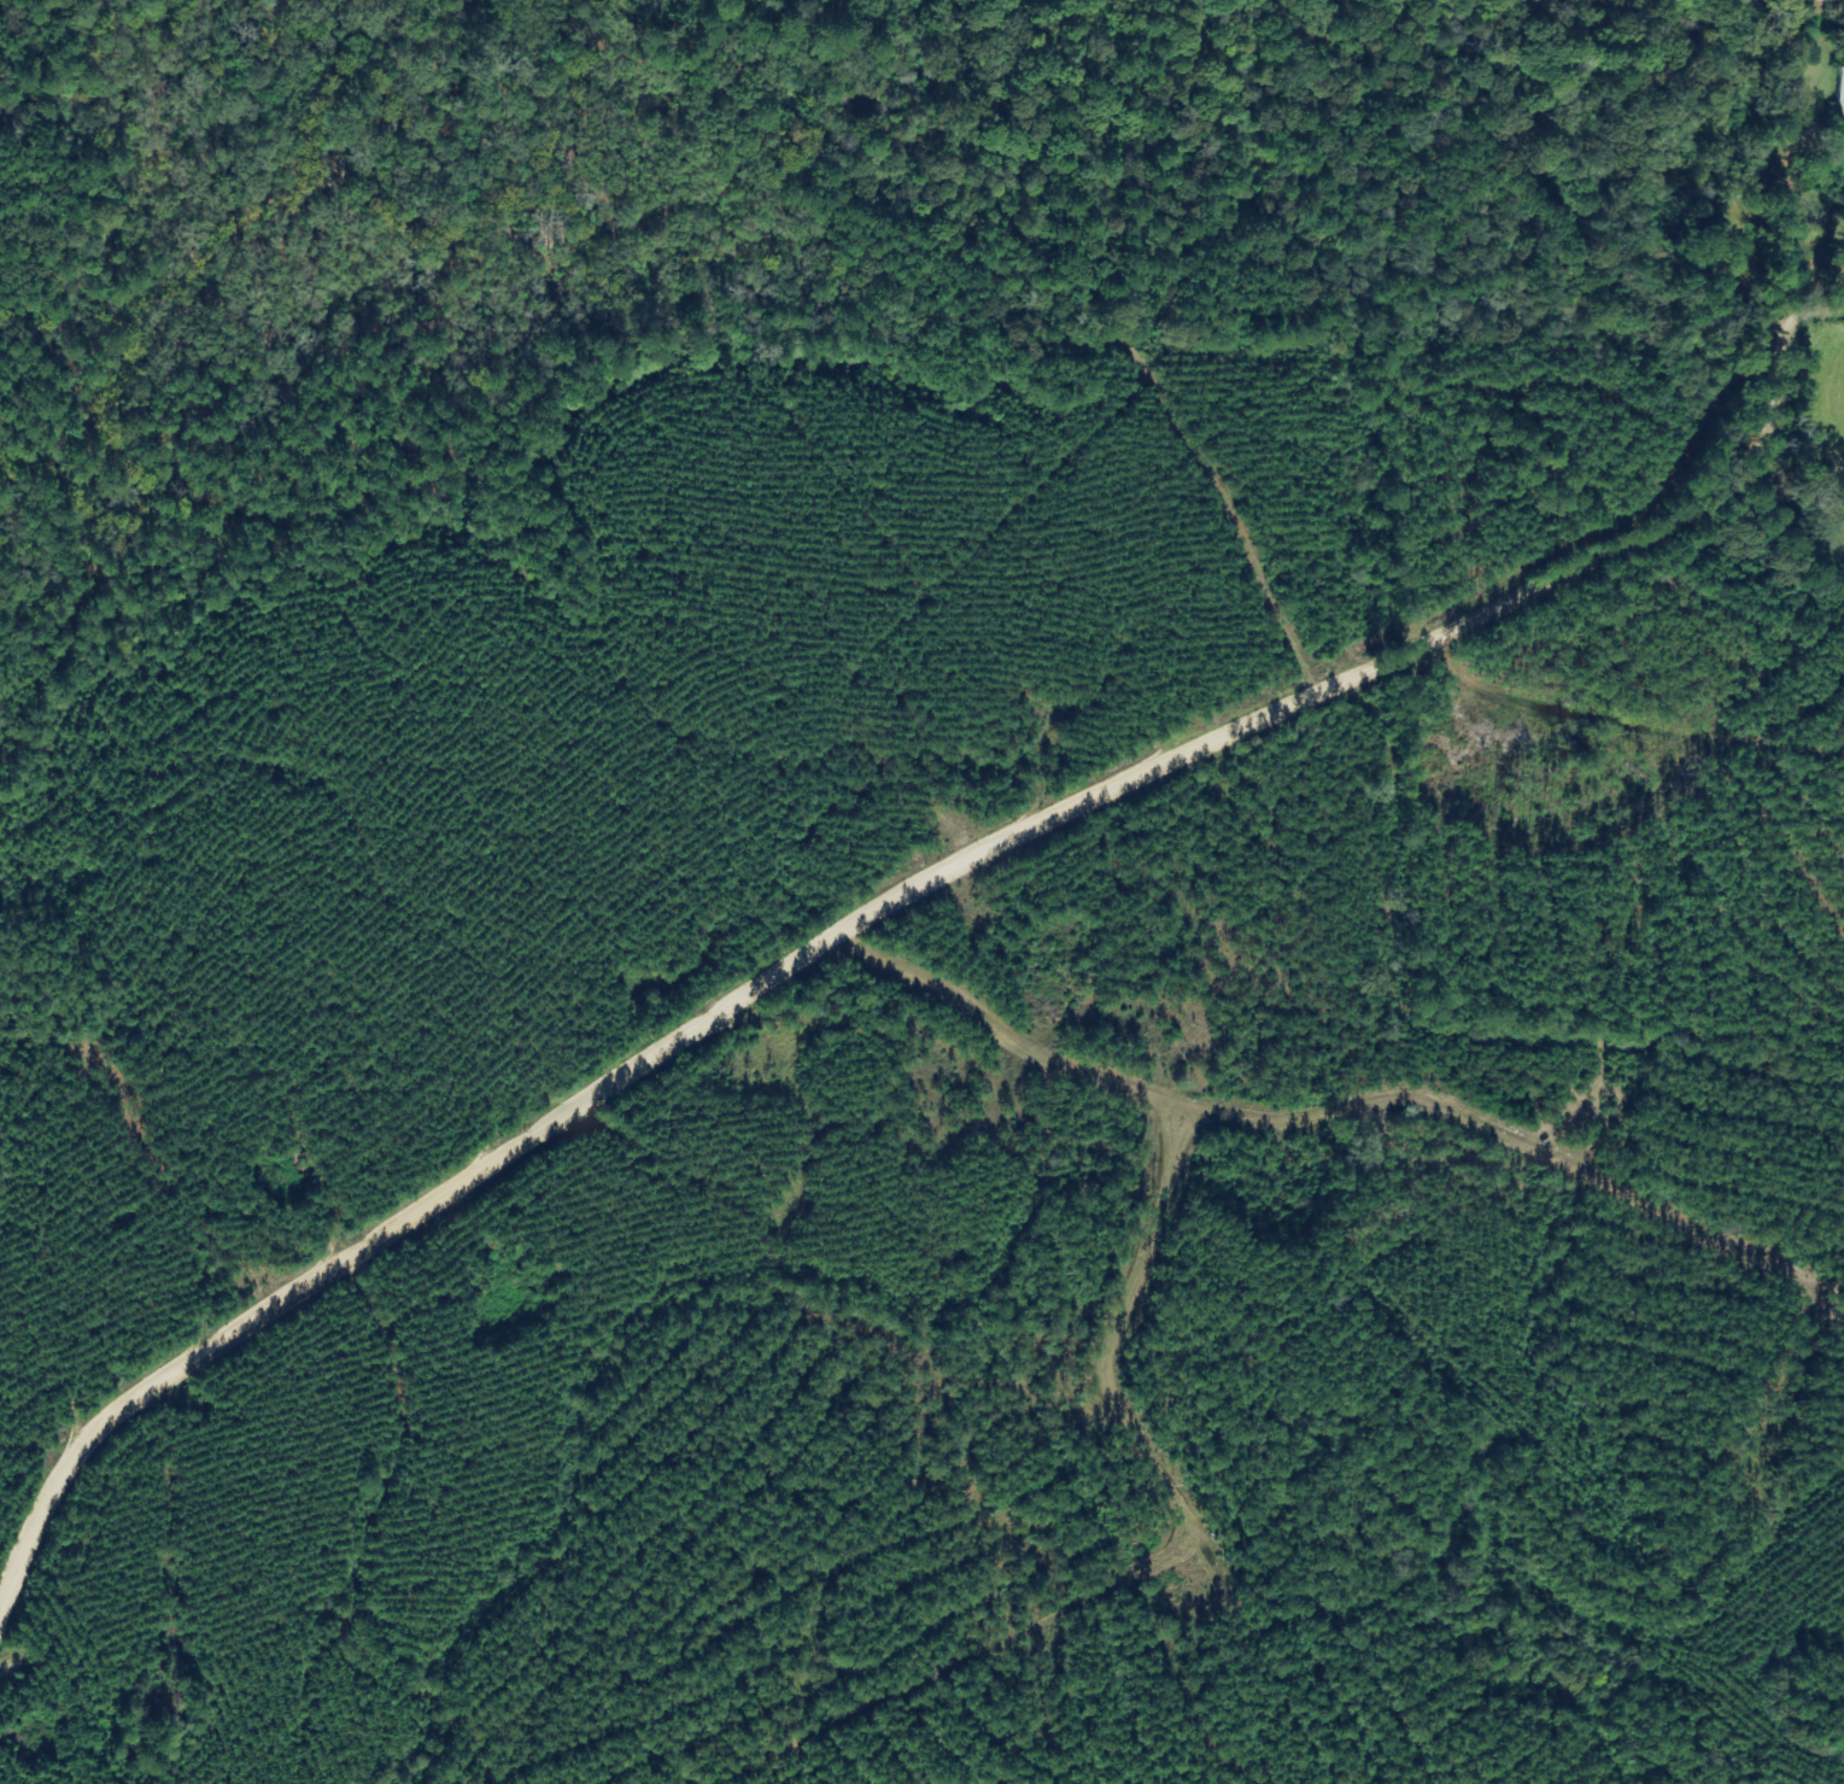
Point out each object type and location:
road: (1064, 843)

